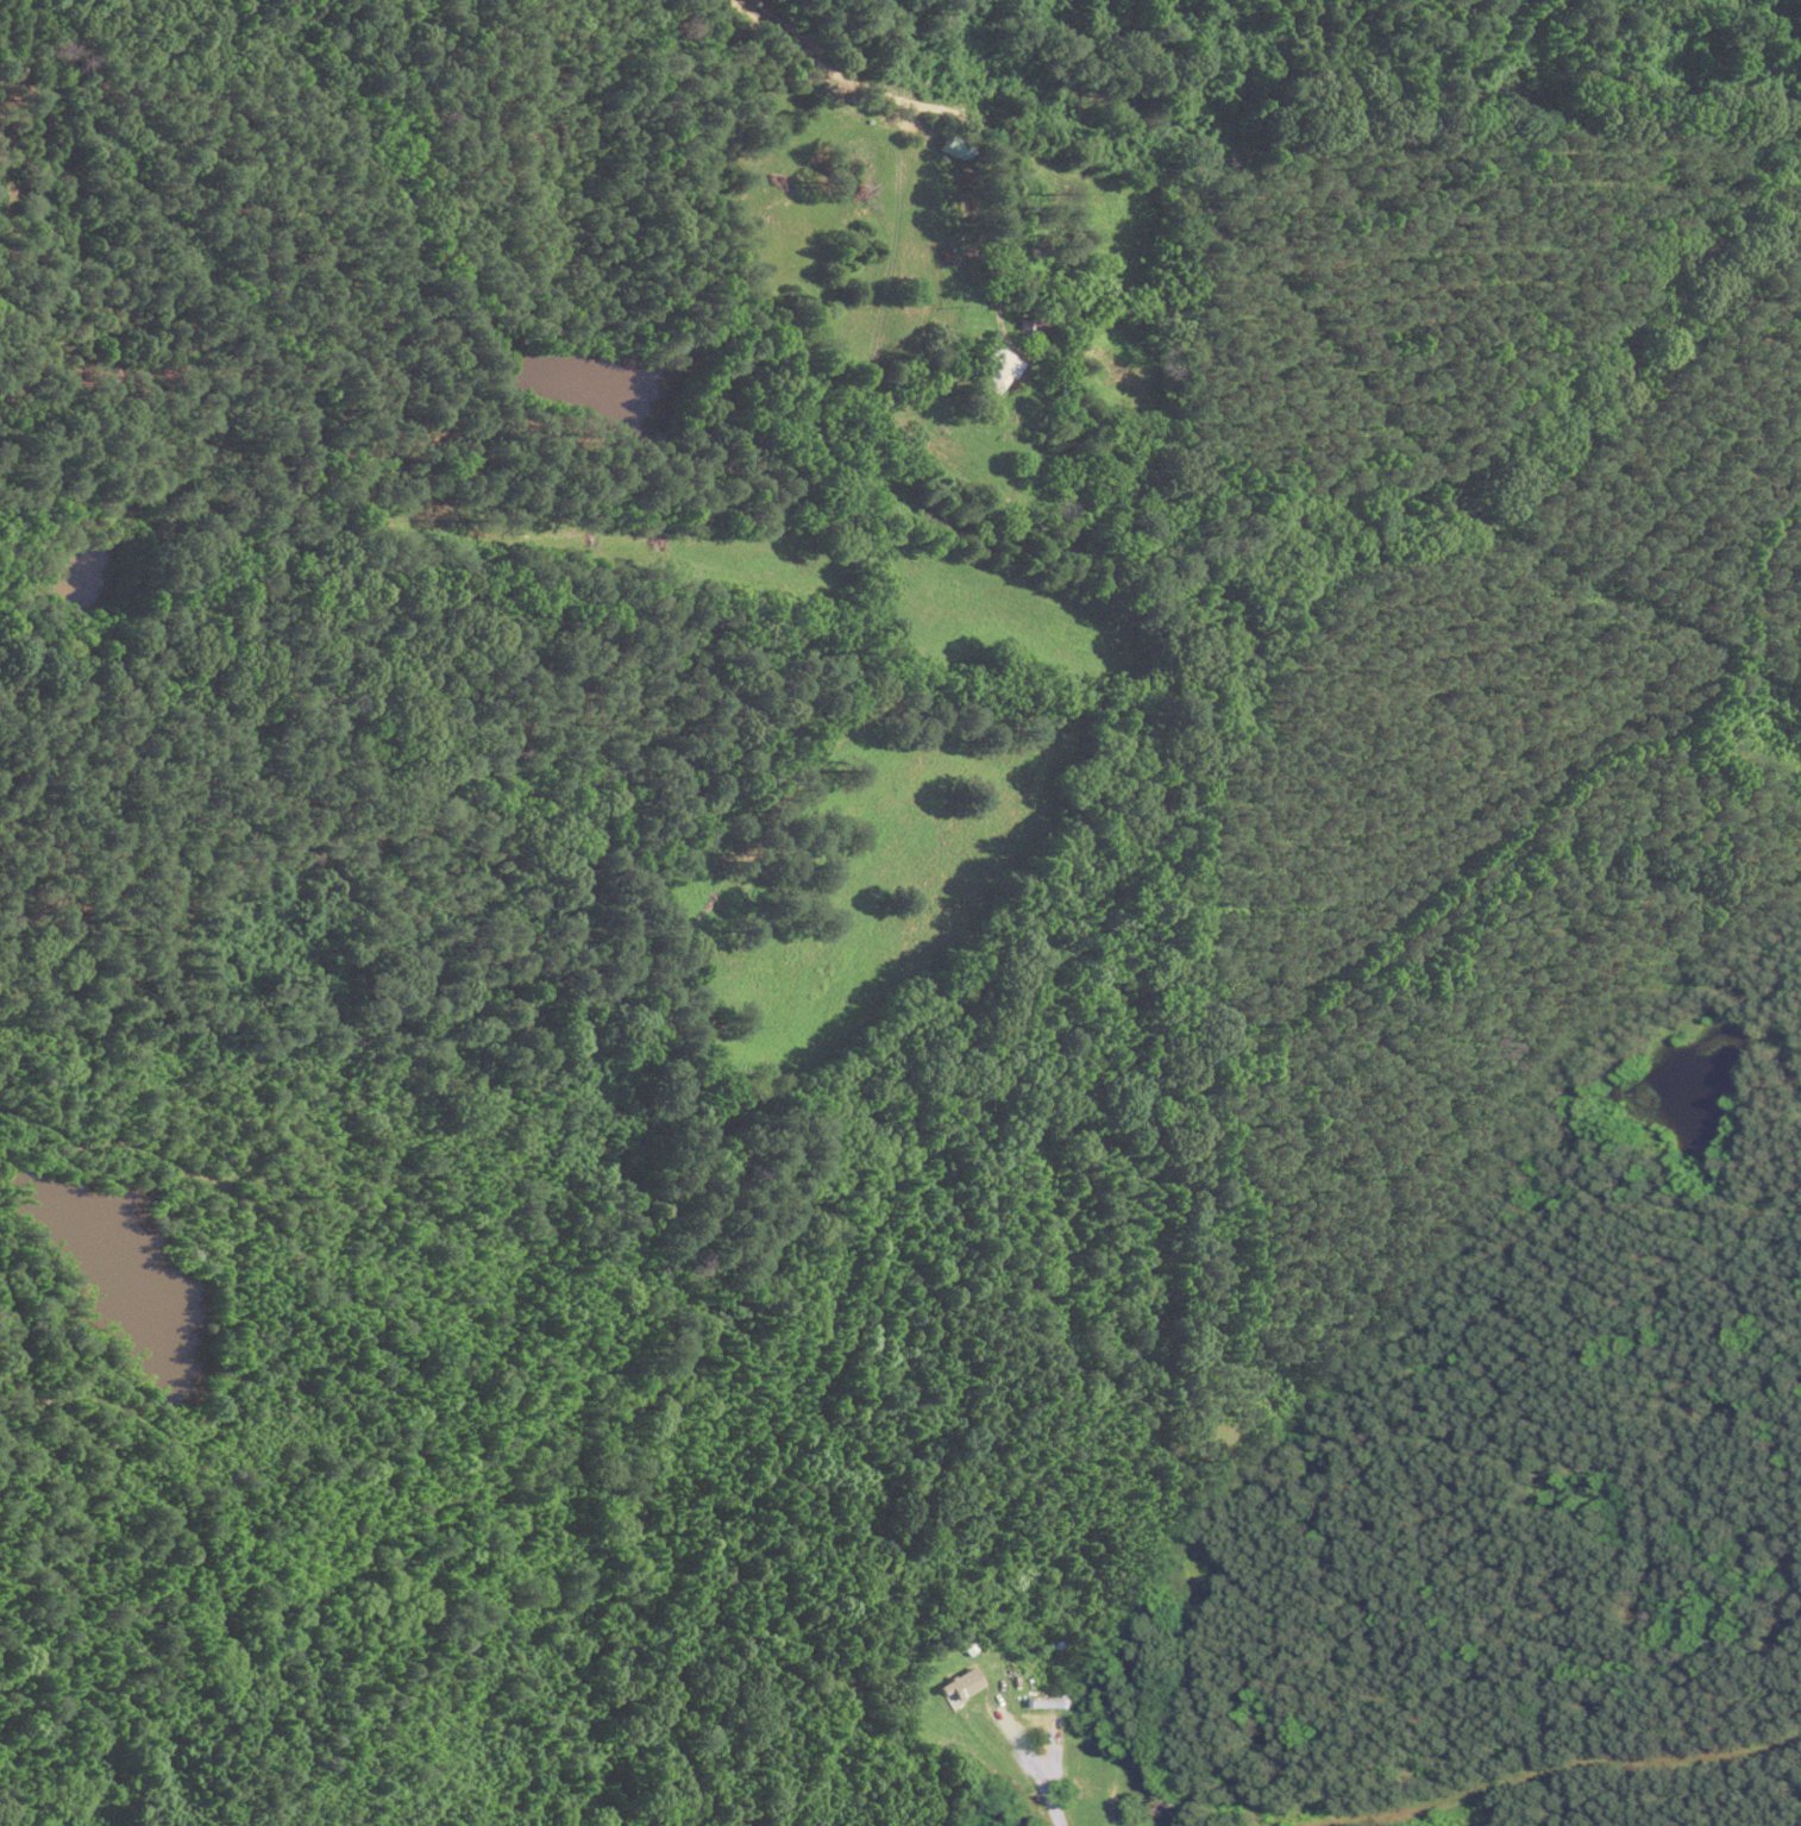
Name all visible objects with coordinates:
road: (955, 117)
building: (959, 148)
building: (1036, 325)
building: (991, 369)
building: (956, 1689)
building: (1053, 1701)
road: (1056, 1749)
road: (1035, 1765)
road: (1563, 1769)

